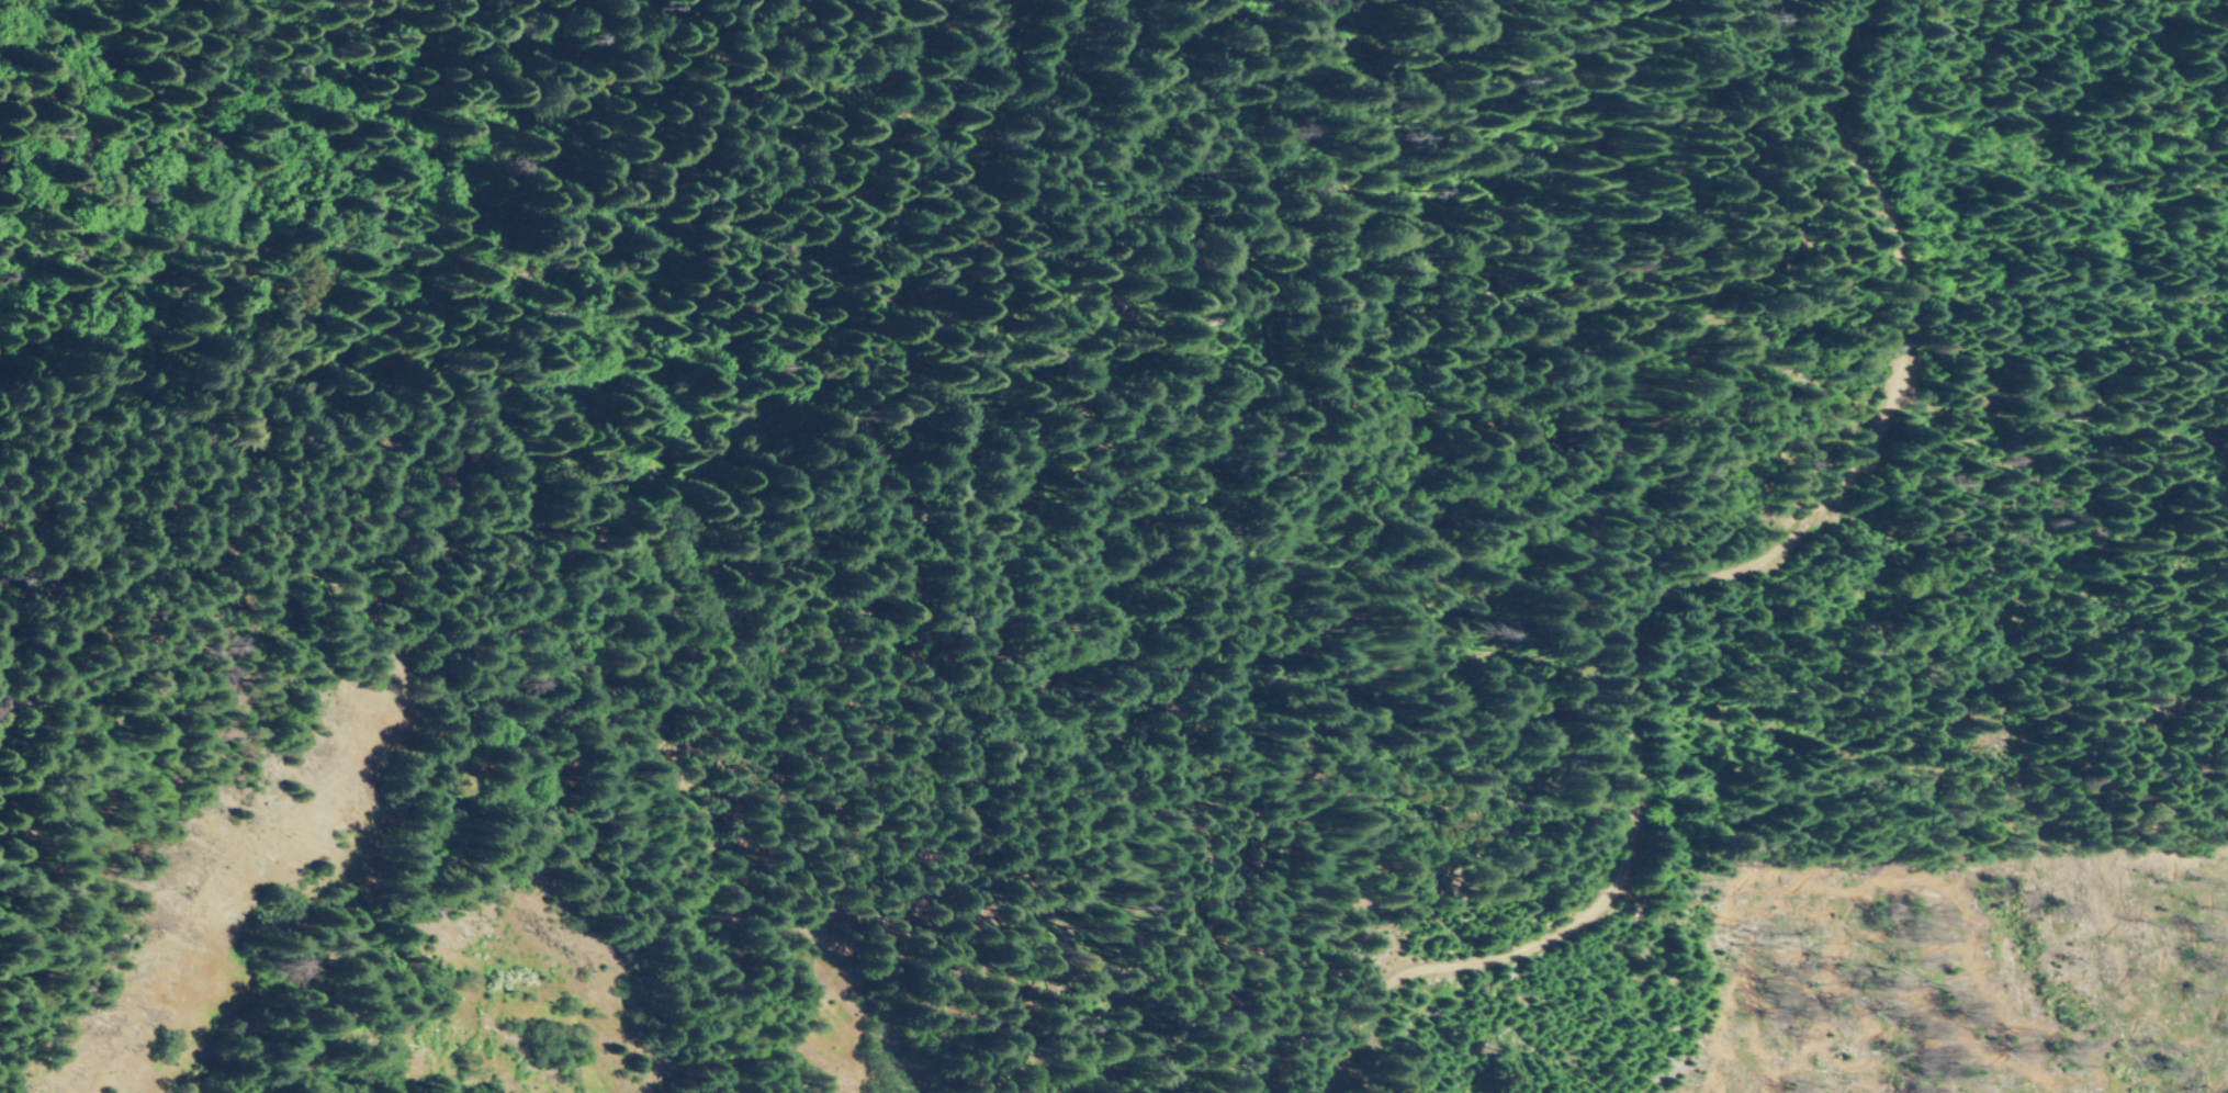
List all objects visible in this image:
road: (1668, 587)

